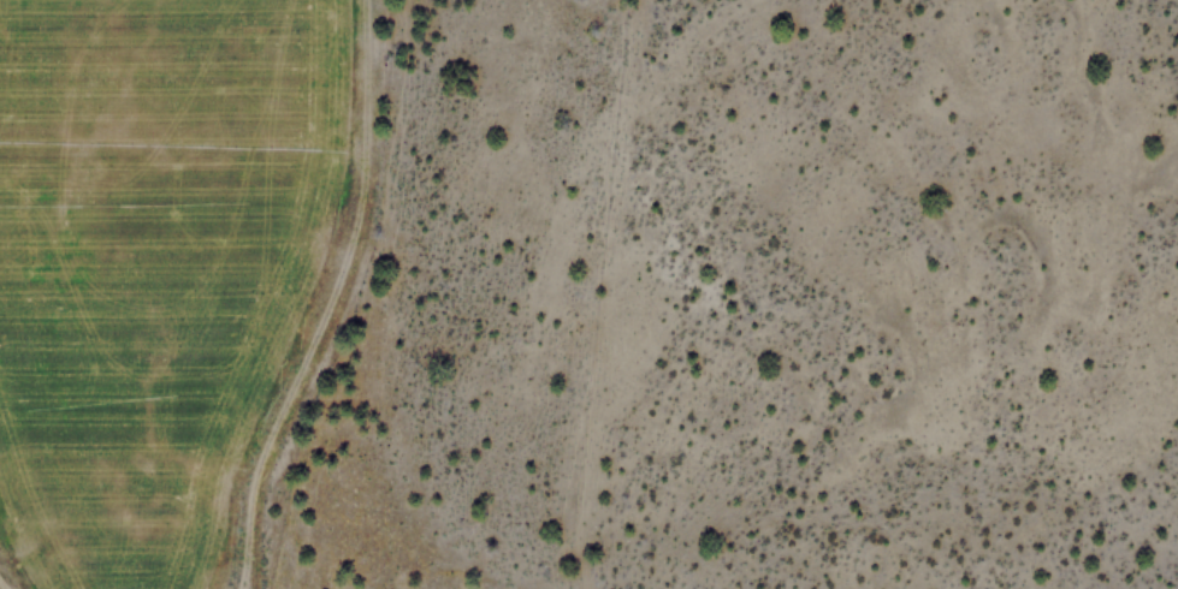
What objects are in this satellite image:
crop: (159, 266)

